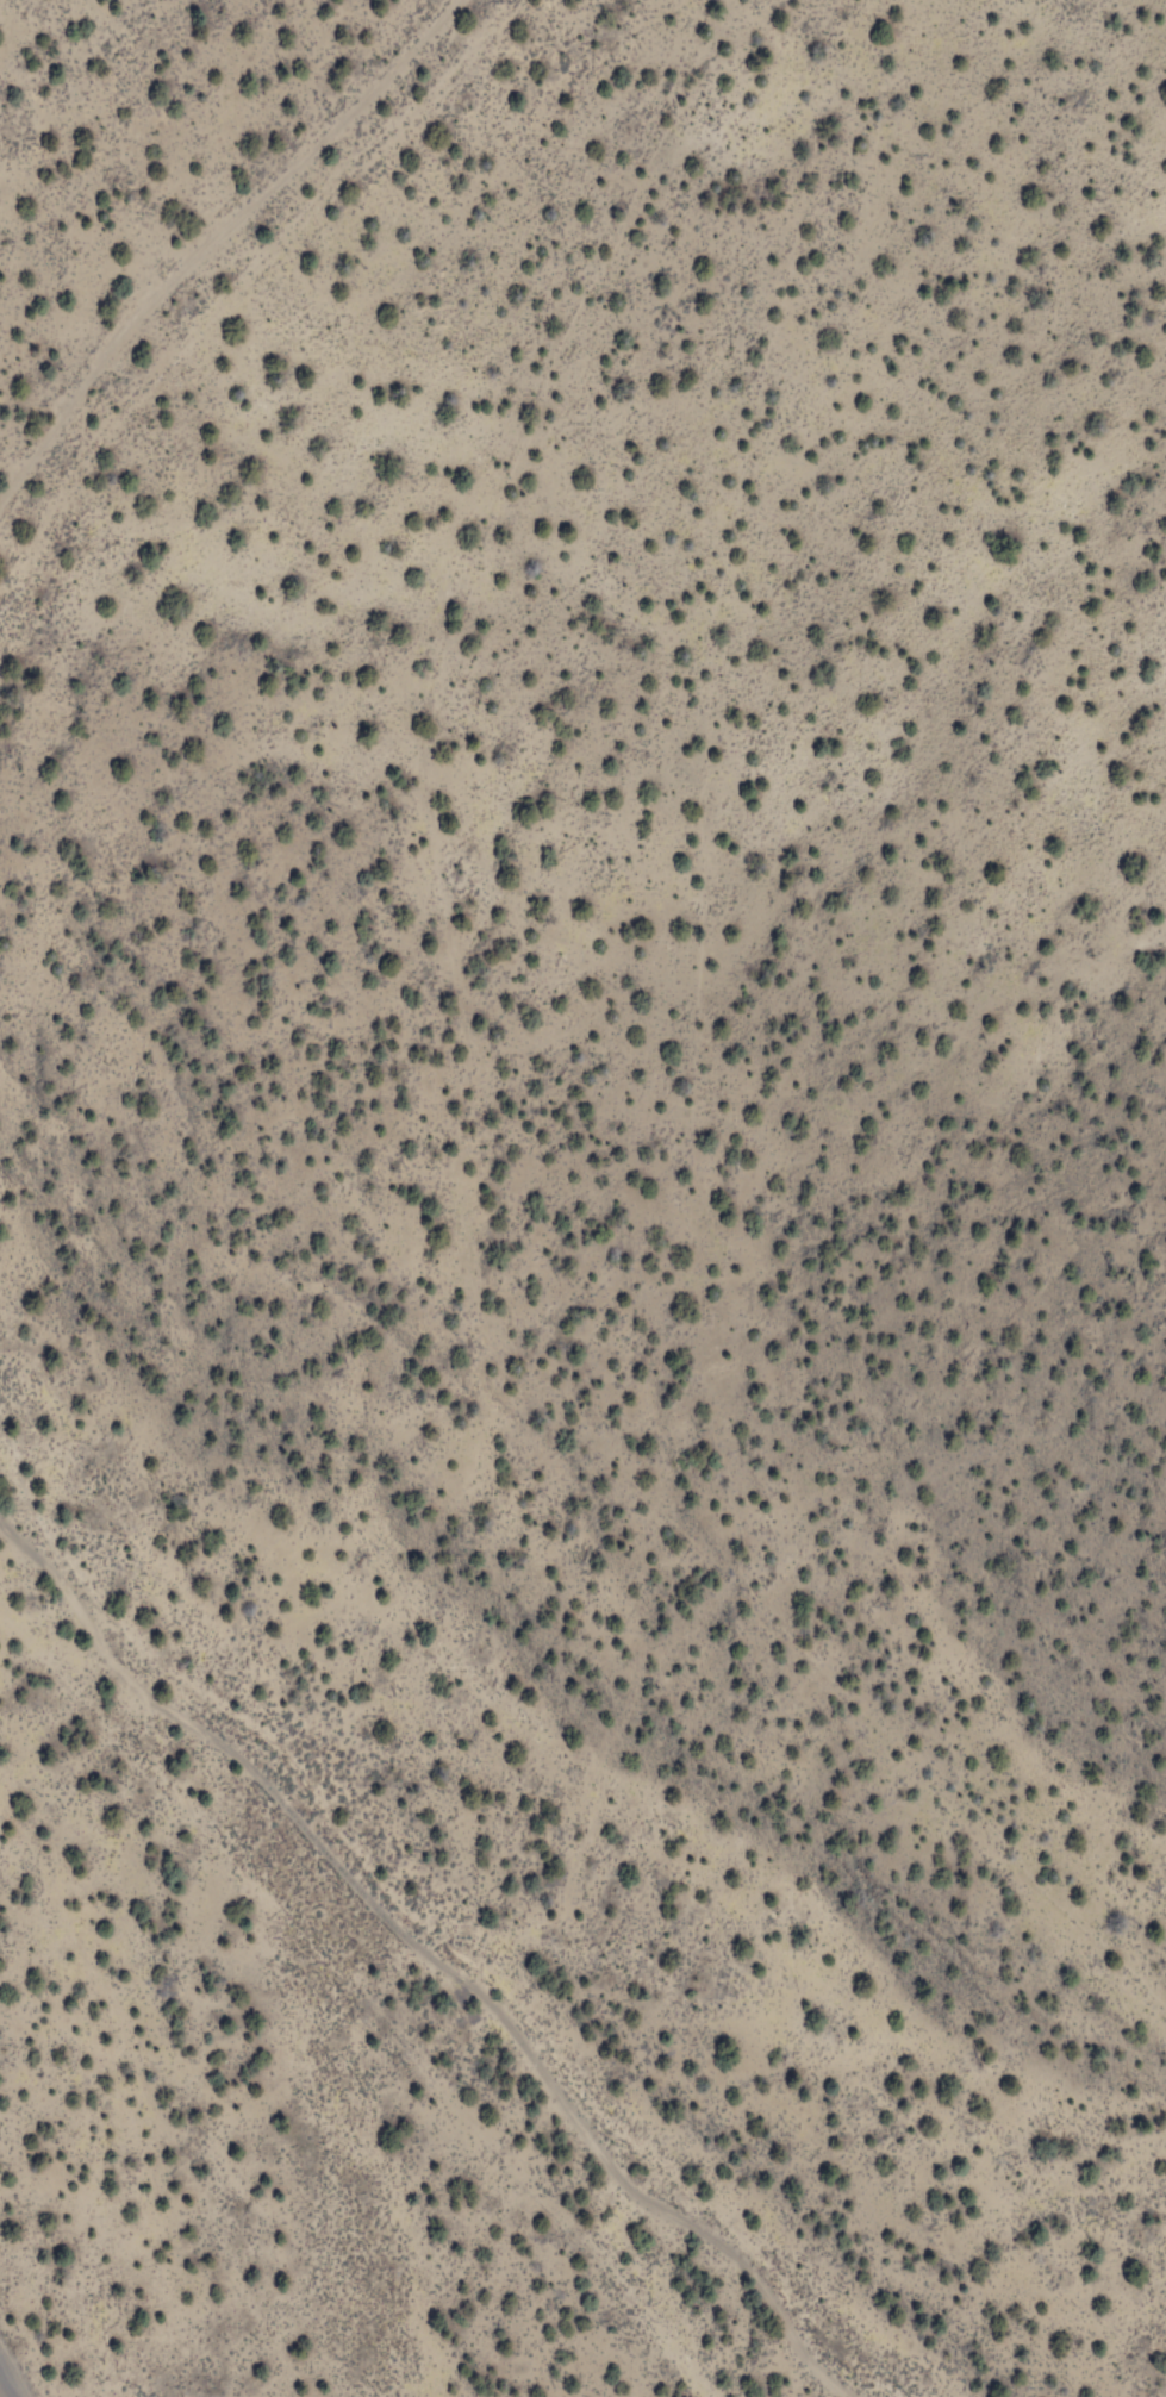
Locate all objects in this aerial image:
road: (242, 264)
road: (453, 1966)
road: (2, 2391)

